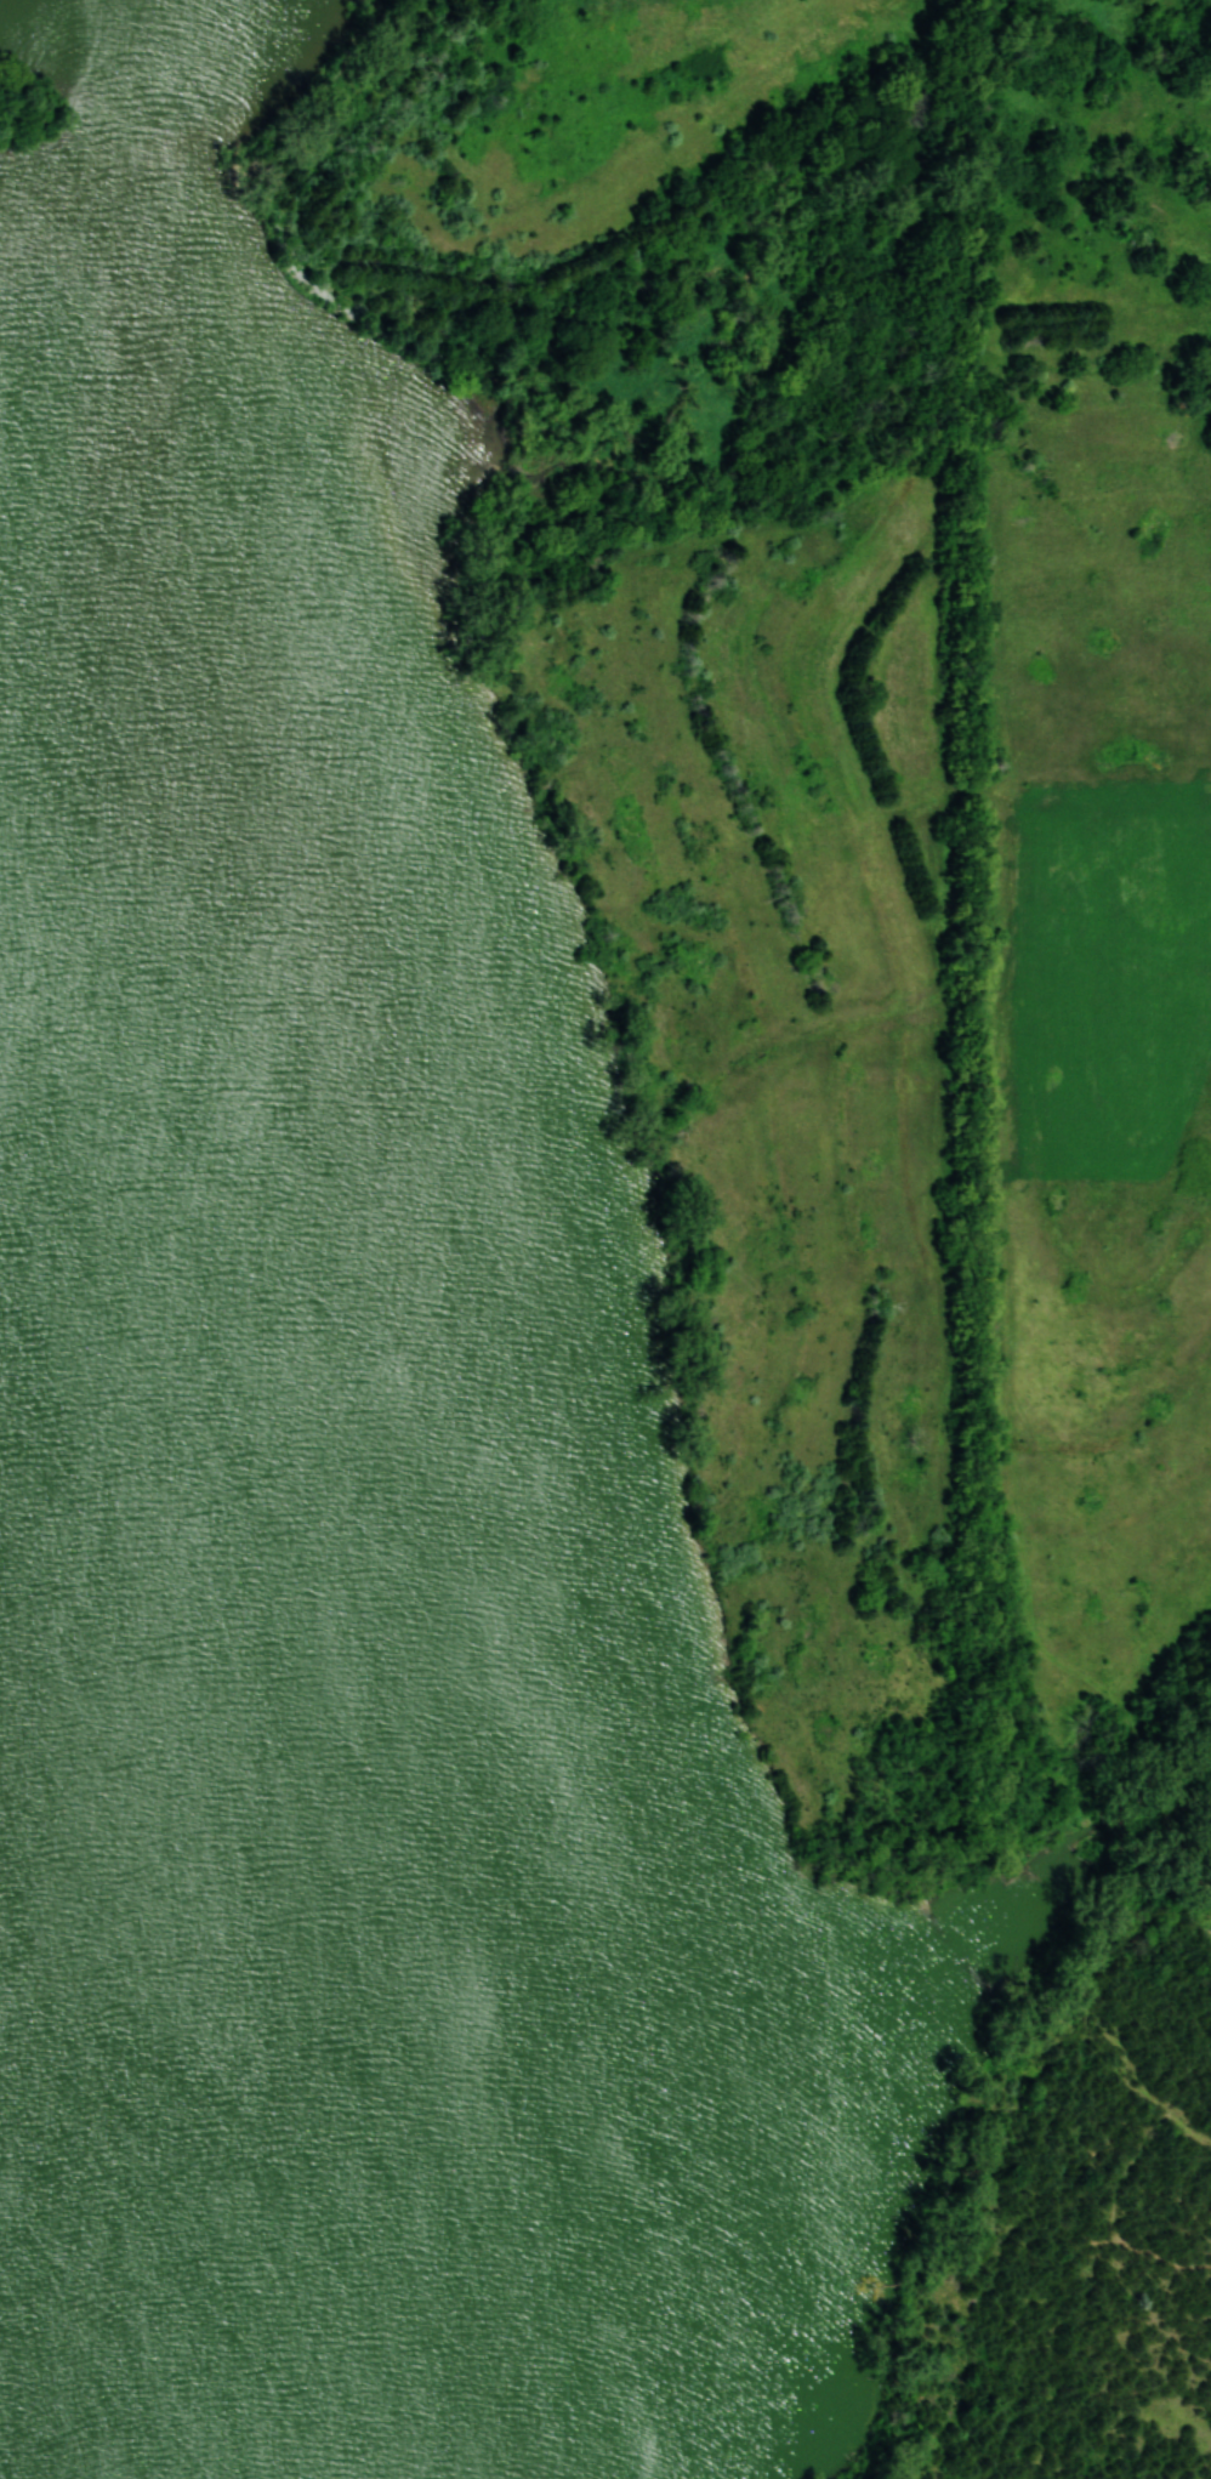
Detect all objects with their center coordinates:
road: (1152, 267)
road: (889, 1047)
road: (997, 1124)
park: (421, 1531)
road: (1156, 1786)
road: (1192, 1853)
road: (1080, 2089)
road: (1192, 2461)

